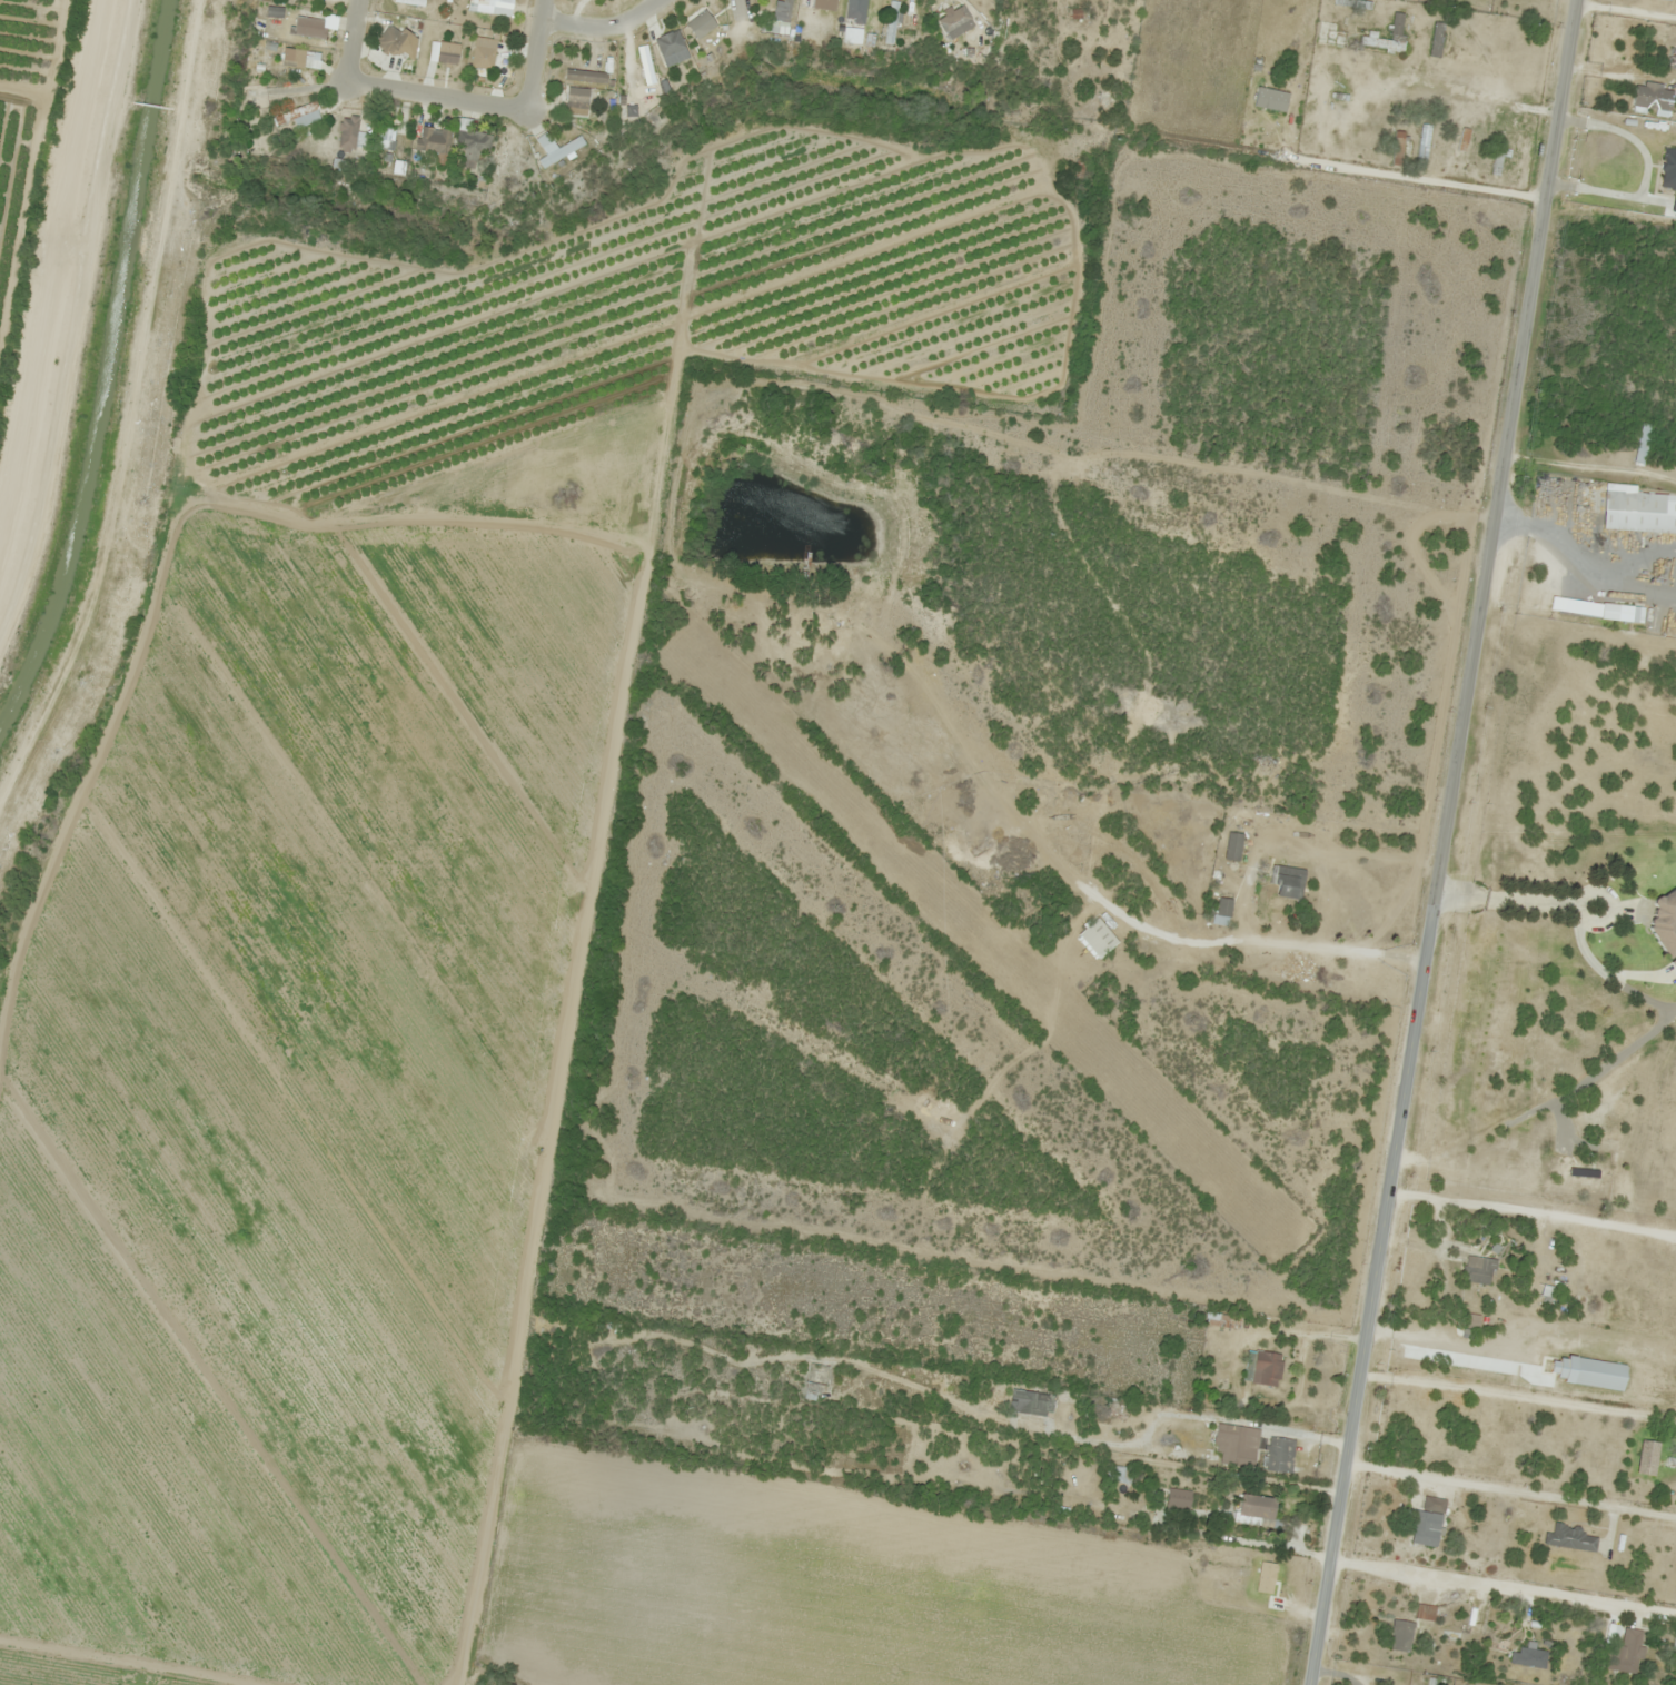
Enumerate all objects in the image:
building: (497, 6)
road: (740, 8)
building: (277, 12)
building: (700, 24)
building: (309, 26)
road: (602, 26)
building: (1397, 31)
building: (1336, 38)
building: (1437, 38)
building: (395, 39)
road: (349, 41)
building: (484, 53)
road: (536, 54)
building: (305, 58)
building: (1673, 58)
building: (647, 69)
building: (586, 76)
road: (436, 96)
building: (576, 100)
building: (298, 116)
building: (348, 132)
building: (385, 137)
building: (434, 140)
building: (473, 143)
building: (557, 143)
building: (1398, 143)
building: (1424, 143)
building: (502, 157)
building: (1669, 169)
building: (1643, 444)
building: (1636, 502)
building: (1605, 611)
road: (1444, 842)
building: (1233, 846)
building: (1288, 882)
building: (1223, 912)
building: (1660, 922)
building: (1099, 939)
building: (1672, 965)
building: (1590, 1179)
building: (1479, 1269)
building: (1219, 1320)
building: (1469, 1320)
building: (1267, 1368)
building: (815, 1381)
building: (1032, 1401)
building: (1233, 1440)
building: (1280, 1455)
building: (1257, 1509)
building: (1428, 1522)
building: (1571, 1537)
building: (1246, 1582)
building: (1425, 1612)
building: (1401, 1635)
building: (1628, 1649)
building: (1528, 1657)

